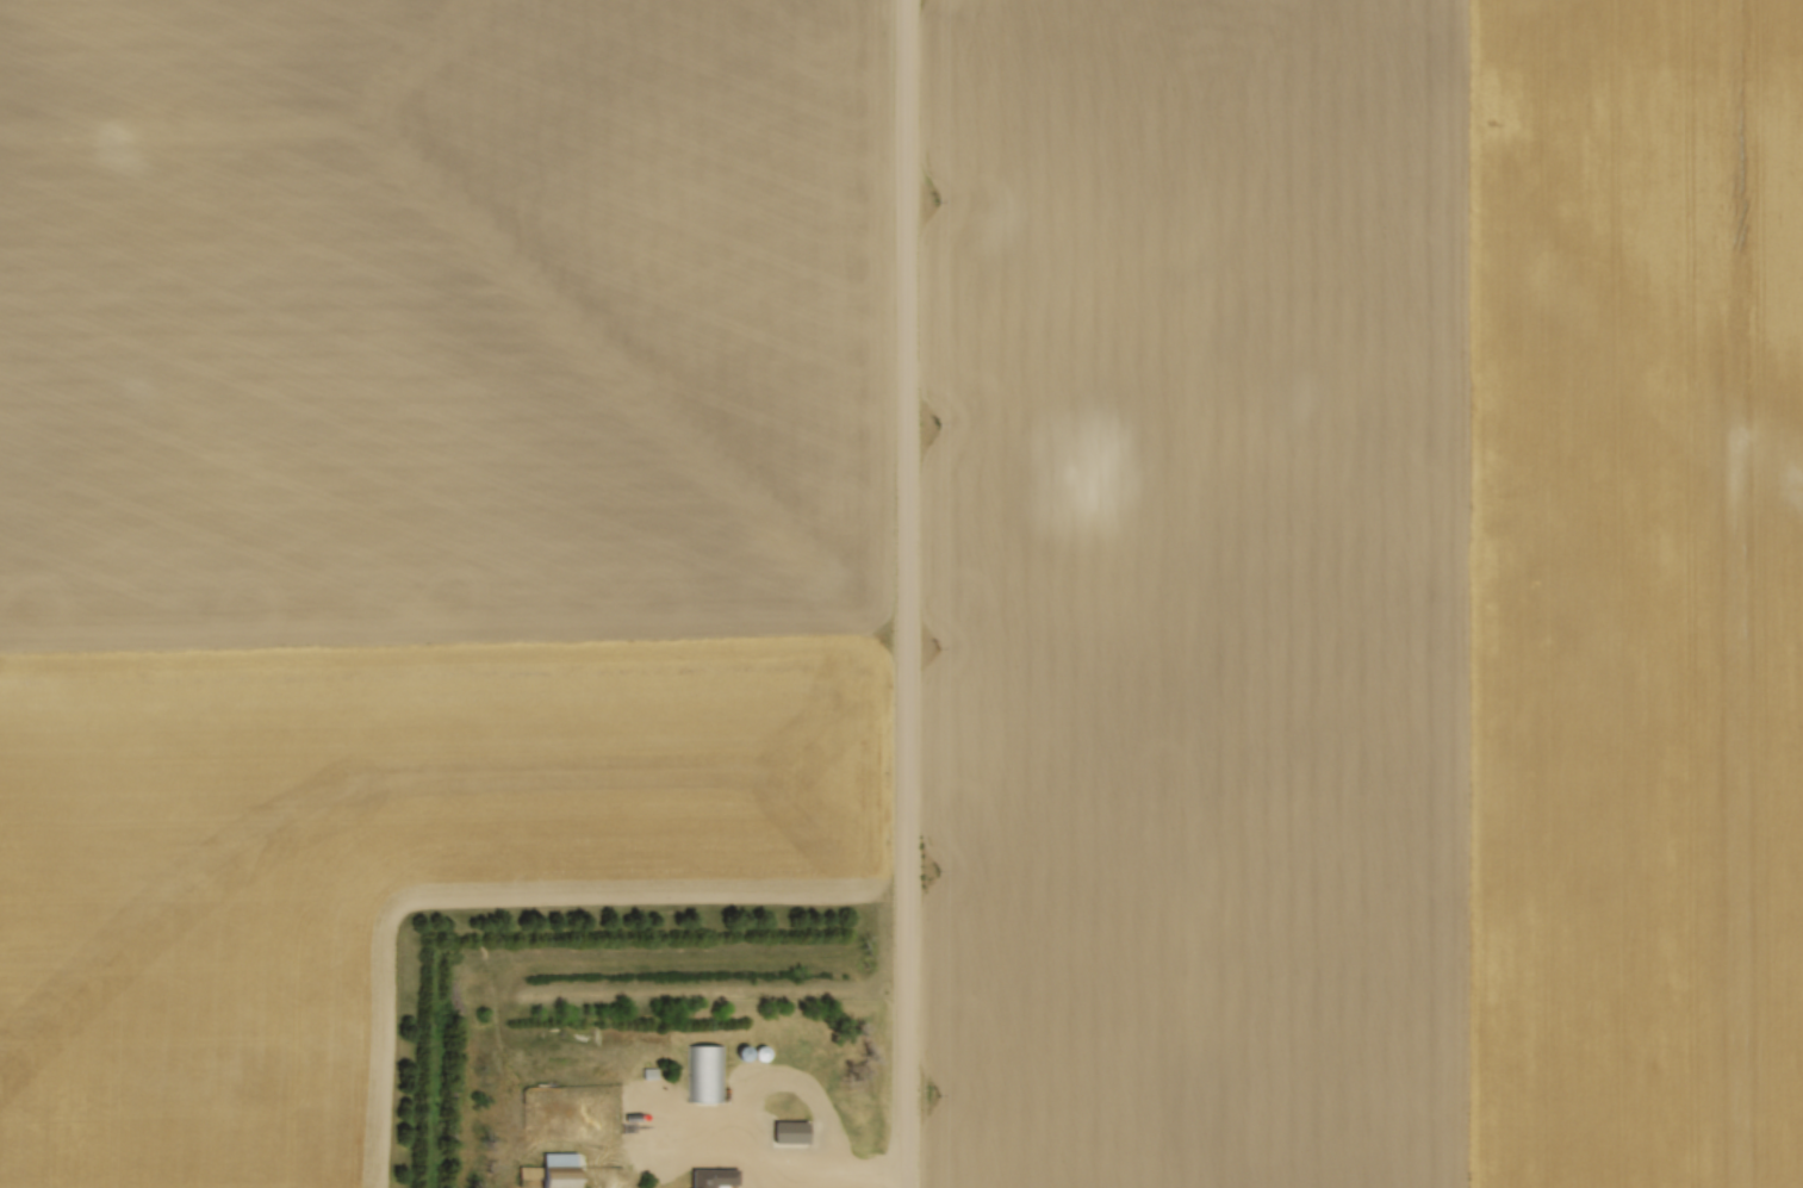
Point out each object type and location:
crop: (414, 523)
road: (904, 593)
crop: (1367, 593)
silo: (738, 1050)
silo: (759, 1052)
building: (704, 1071)
road: (813, 1093)
building: (784, 1130)
road: (709, 1140)
building: (557, 1169)
building: (707, 1177)

